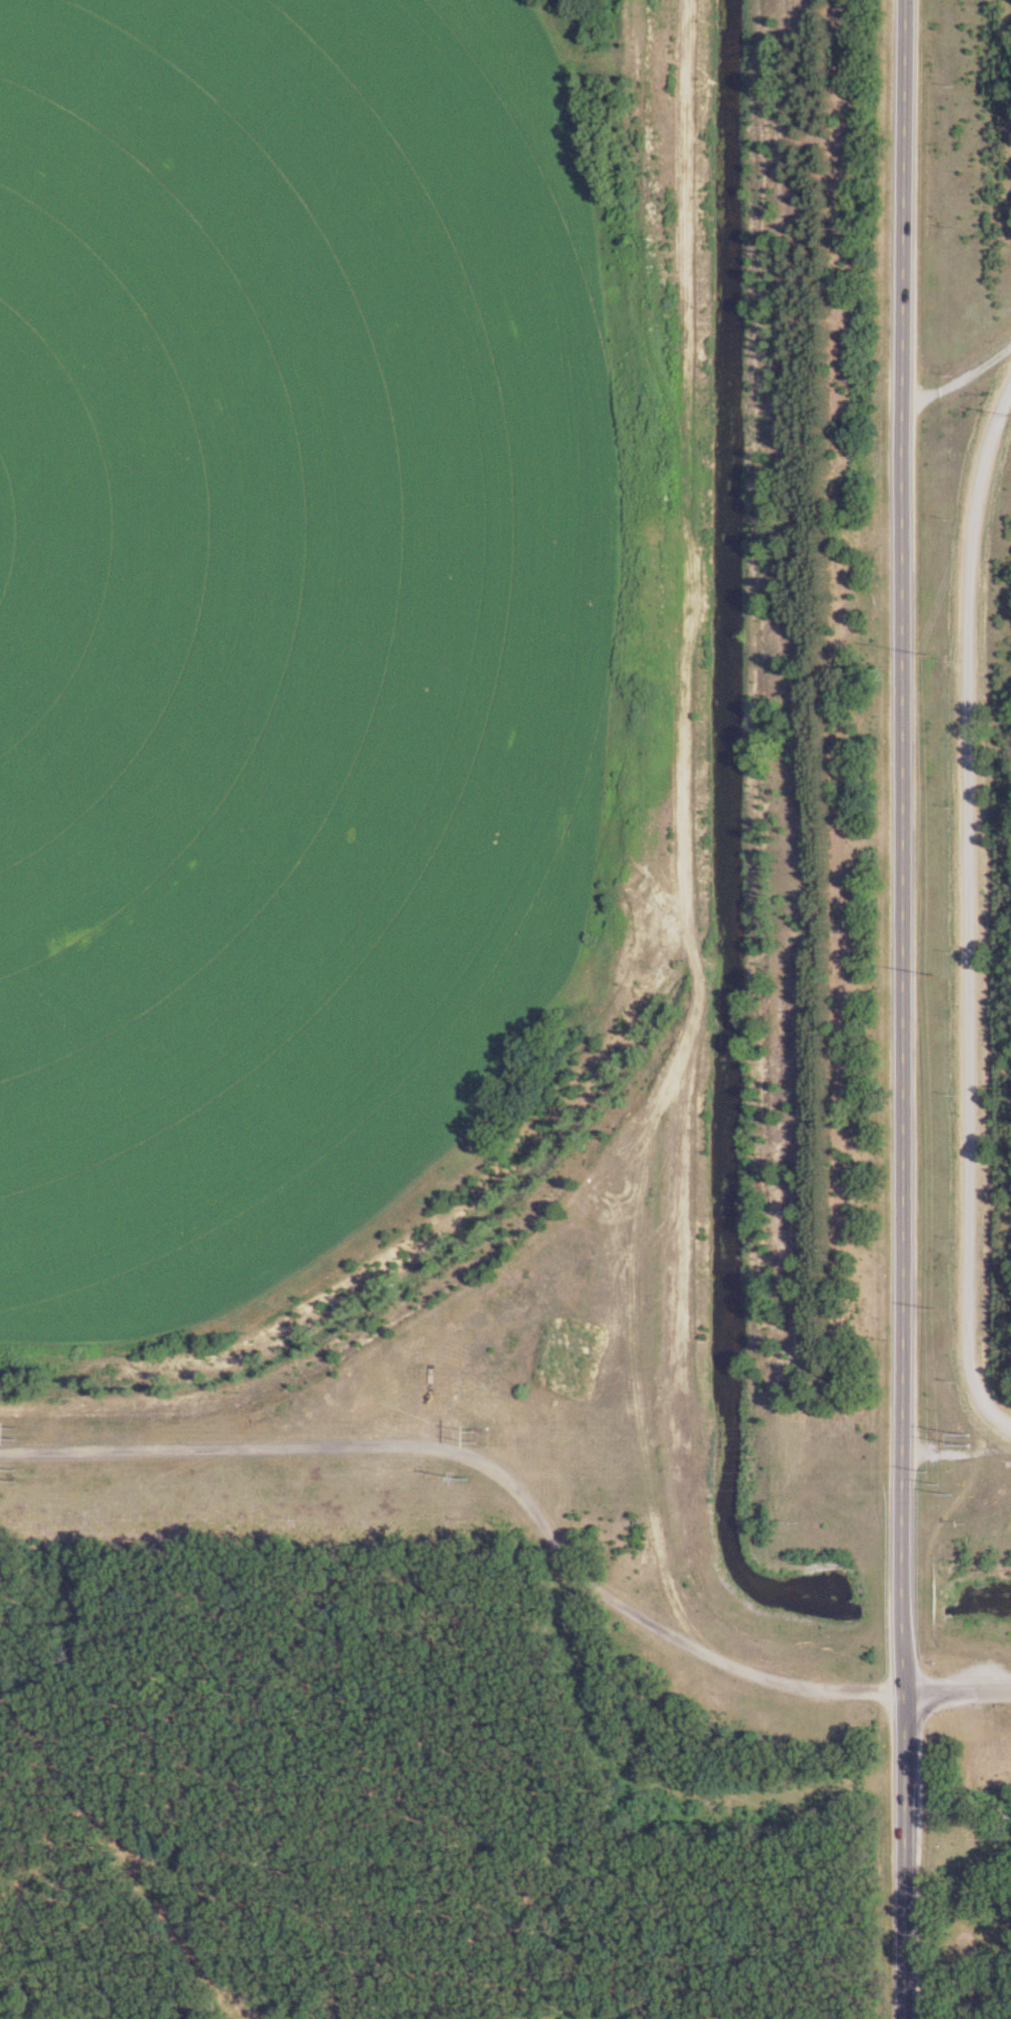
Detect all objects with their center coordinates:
road: (957, 383)
wastewater plant: (980, 868)
road: (971, 912)
road: (904, 1009)
power tower: (17, 1430)
power tower: (476, 1431)
power tower: (965, 1436)
road: (958, 1451)
power tower: (17, 1473)
power tower: (476, 1476)
power tower: (940, 1480)
road: (958, 1687)

